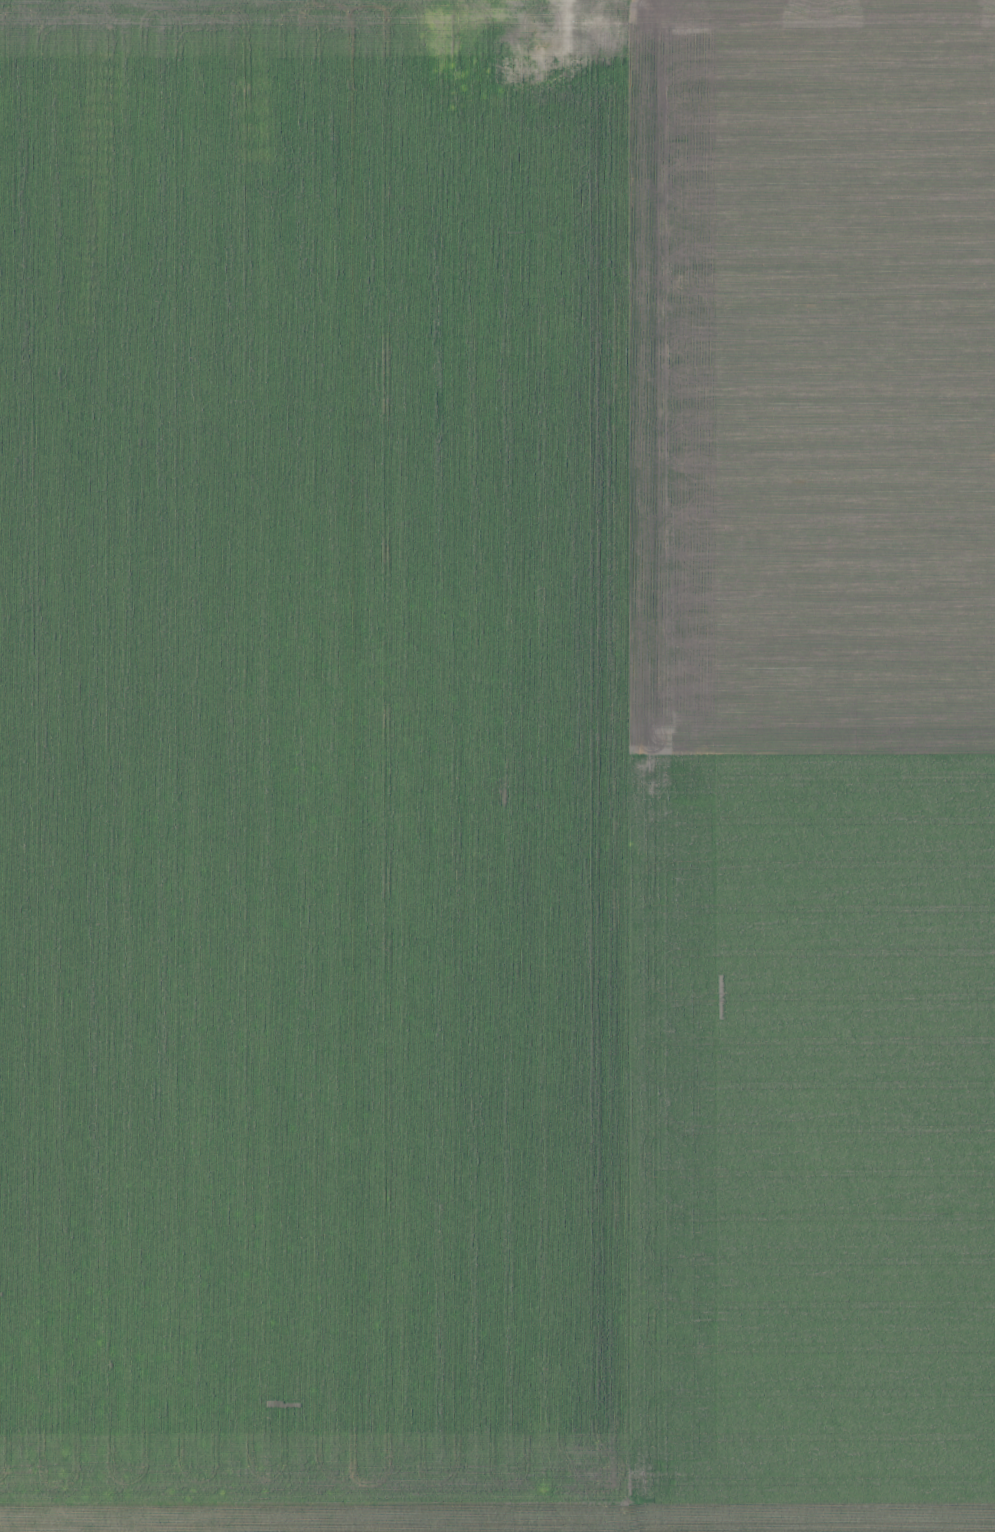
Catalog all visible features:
building: (598, 30)
building: (526, 36)
building: (506, 66)

